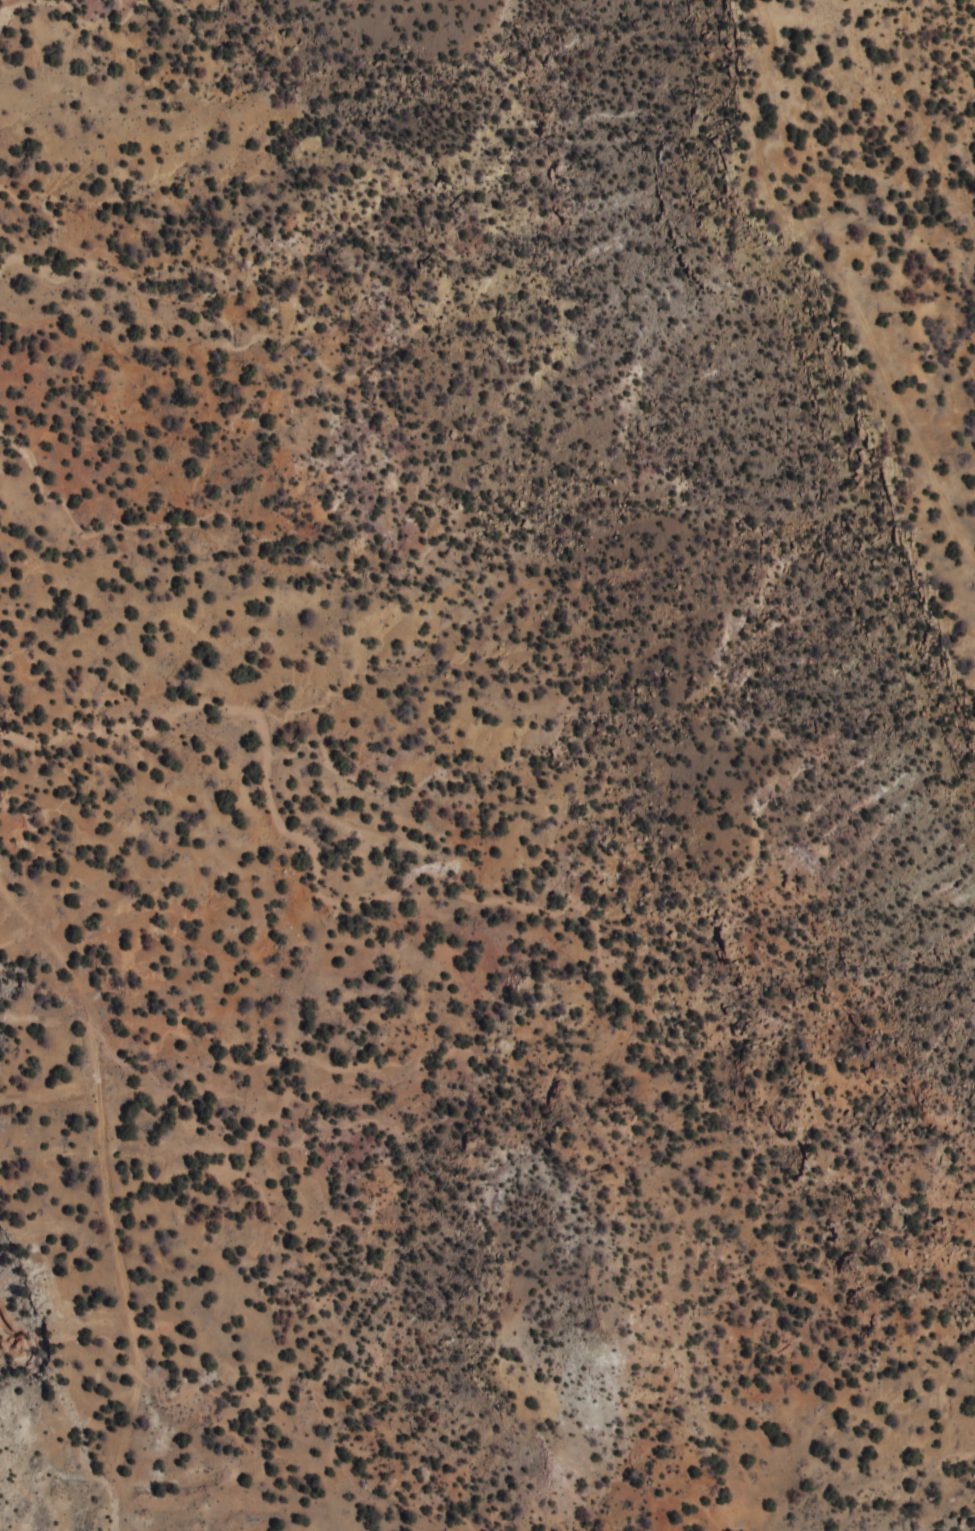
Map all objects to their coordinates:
road: (839, 281)

